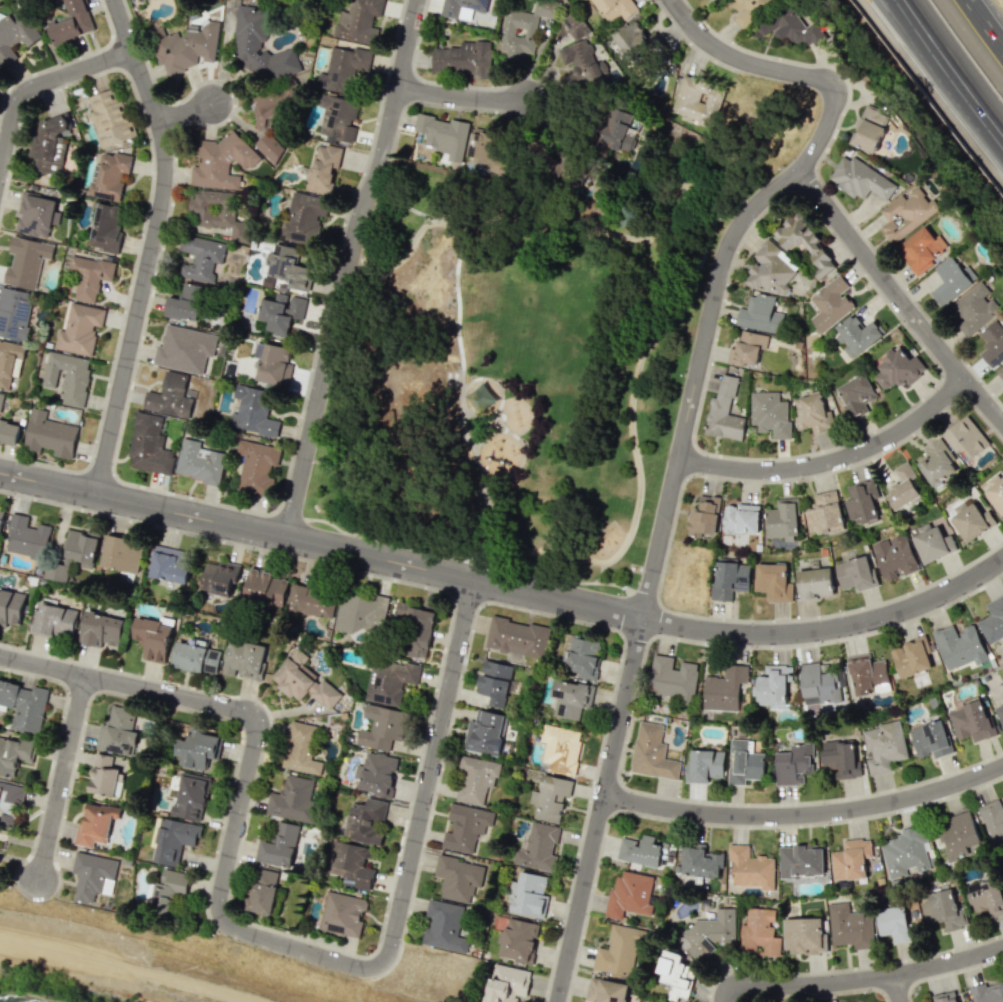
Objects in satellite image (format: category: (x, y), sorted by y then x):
building: (144, 1)
building: (463, 7)
building: (616, 8)
building: (748, 10)
building: (359, 20)
building: (72, 22)
road: (986, 23)
building: (522, 28)
building: (790, 29)
building: (15, 34)
building: (633, 41)
building: (261, 45)
building: (185, 46)
building: (581, 52)
building: (463, 58)
road: (64, 61)
building: (345, 67)
road: (784, 71)
road: (947, 75)
road: (37, 88)
road: (934, 89)
road: (466, 97)
building: (698, 100)
building: (267, 108)
road: (186, 115)
building: (338, 116)
building: (110, 119)
building: (868, 128)
building: (616, 132)
building: (443, 135)
building: (49, 143)
building: (270, 145)
building: (221, 161)
building: (323, 167)
road: (705, 169)
building: (109, 177)
road: (819, 177)
building: (860, 179)
road: (147, 205)
building: (905, 214)
building: (37, 215)
building: (303, 217)
road: (484, 222)
road: (190, 225)
building: (105, 227)
building: (803, 240)
road: (149, 244)
building: (921, 248)
building: (201, 257)
building: (26, 261)
road: (346, 267)
building: (770, 268)
building: (289, 269)
building: (89, 275)
building: (951, 280)
road: (897, 298)
building: (186, 303)
building: (830, 303)
building: (973, 309)
building: (281, 311)
building: (14, 313)
building: (759, 314)
building: (79, 329)
building: (856, 335)
building: (992, 342)
building: (184, 348)
building: (747, 348)
building: (8, 360)
building: (273, 364)
park: (524, 366)
building: (898, 369)
building: (1000, 373)
building: (67, 376)
building: (856, 395)
building: (170, 396)
road: (462, 396)
road: (500, 396)
building: (480, 397)
building: (1, 399)
building: (253, 411)
building: (724, 412)
building: (770, 413)
building: (812, 414)
road: (498, 421)
building: (9, 433)
building: (49, 435)
building: (965, 437)
building: (149, 444)
road: (521, 448)
road: (830, 461)
building: (198, 462)
building: (936, 462)
building: (256, 465)
road: (143, 485)
building: (902, 487)
building: (995, 492)
building: (865, 501)
building: (824, 513)
building: (704, 515)
building: (1, 516)
building: (740, 518)
building: (782, 519)
road: (408, 520)
building: (970, 520)
road: (336, 528)
building: (26, 537)
building: (932, 543)
building: (74, 554)
building: (121, 554)
building: (894, 557)
building: (170, 564)
road: (650, 570)
building: (854, 574)
building: (220, 577)
building: (729, 578)
building: (772, 581)
building: (814, 583)
building: (264, 587)
road: (505, 587)
building: (312, 601)
building: (11, 607)
building: (359, 615)
building: (54, 618)
building: (992, 620)
building: (415, 627)
building: (101, 629)
building: (517, 637)
building: (958, 646)
building: (195, 656)
building: (910, 656)
building: (583, 657)
building: (244, 659)
building: (867, 674)
building: (672, 679)
building: (389, 680)
building: (304, 681)
building: (495, 682)
building: (818, 682)
building: (771, 685)
building: (723, 688)
building: (1002, 696)
building: (570, 698)
building: (24, 705)
building: (999, 713)
building: (971, 721)
building: (381, 727)
building: (485, 732)
building: (119, 733)
building: (930, 739)
building: (560, 747)
building: (883, 747)
building: (300, 748)
building: (198, 749)
building: (652, 753)
building: (14, 754)
building: (840, 759)
building: (744, 762)
building: (794, 764)
building: (704, 765)
building: (105, 773)
building: (377, 774)
road: (60, 775)
building: (475, 779)
building: (190, 797)
building: (550, 797)
building: (292, 799)
building: (9, 801)
road: (804, 812)
building: (365, 821)
building: (993, 821)
building: (95, 824)
building: (465, 827)
building: (957, 835)
building: (171, 839)
building: (279, 846)
building: (537, 847)
building: (641, 850)
building: (904, 852)
building: (850, 859)
building: (700, 860)
building: (800, 861)
building: (351, 863)
building: (1002, 865)
building: (750, 868)
building: (458, 878)
building: (168, 890)
building: (262, 891)
building: (630, 893)
building: (529, 894)
building: (986, 896)
building: (945, 909)
building: (342, 914)
building: (893, 923)
building: (444, 926)
building: (848, 926)
building: (759, 932)
building: (711, 933)
building: (804, 935)
road: (261, 937)
building: (518, 940)
building: (618, 951)
road: (128, 967)
building: (675, 975)
road: (859, 978)
building: (507, 983)
road: (895, 988)
building: (605, 990)
building: (987, 993)
building: (945, 997)
building: (648, 1001)

